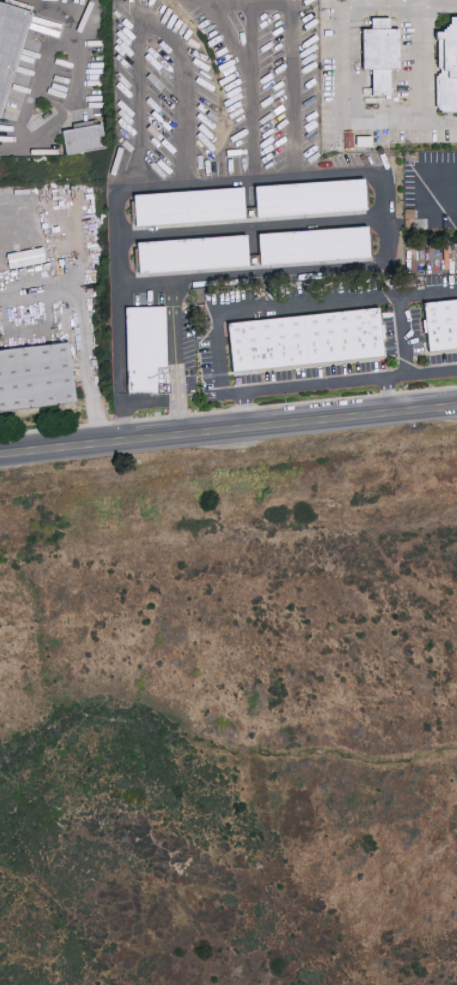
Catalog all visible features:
road: (241, 3)
road: (145, 19)
building: (9, 35)
road: (250, 39)
building: (380, 52)
building: (448, 64)
road: (347, 65)
road: (421, 66)
road: (78, 78)
road: (36, 79)
building: (81, 137)
building: (353, 140)
road: (354, 169)
building: (309, 195)
building: (188, 205)
road: (249, 225)
road: (251, 225)
building: (312, 244)
building: (192, 253)
road: (140, 284)
road: (429, 294)
road: (311, 302)
road: (82, 305)
building: (441, 323)
building: (304, 337)
building: (145, 349)
road: (433, 373)
building: (34, 374)
road: (313, 384)
road: (147, 403)
road: (97, 423)
road: (228, 429)

